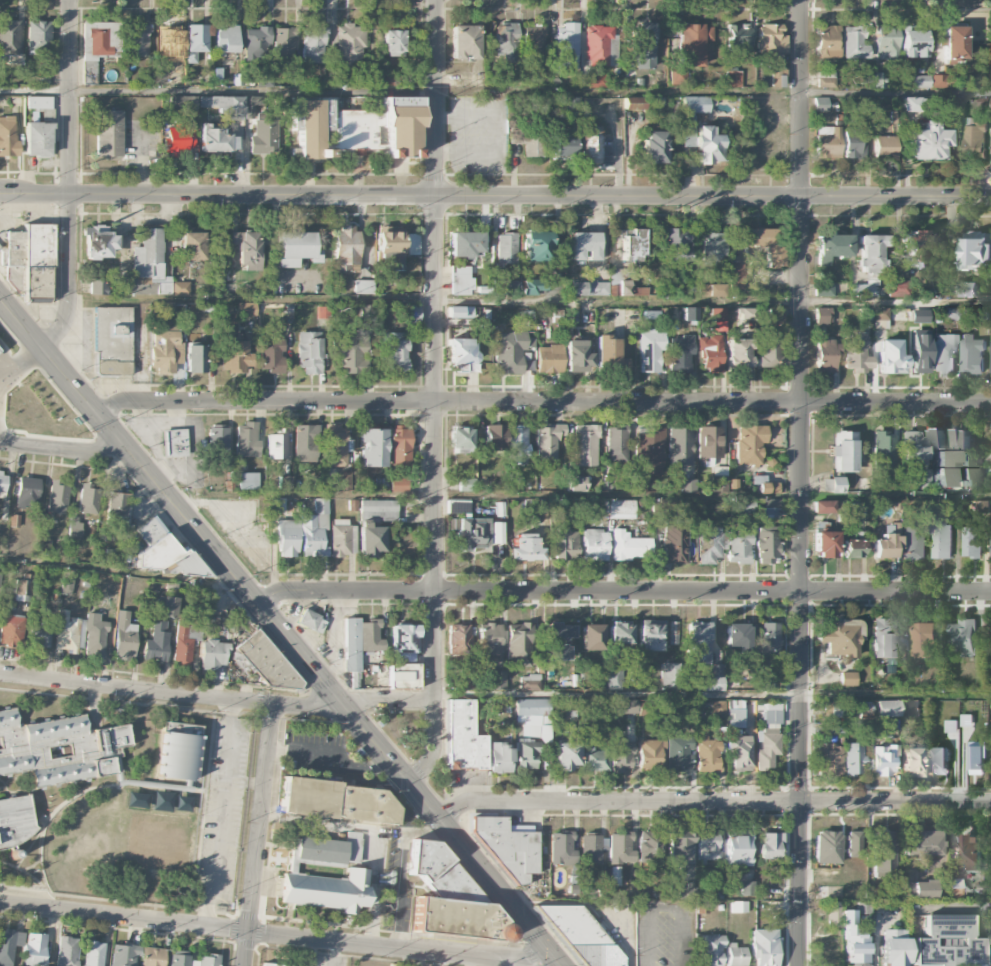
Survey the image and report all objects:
building: (39, 36)
building: (9, 38)
building: (226, 39)
building: (738, 39)
building: (771, 39)
building: (505, 40)
building: (138, 41)
building: (194, 41)
building: (533, 41)
building: (465, 42)
building: (826, 42)
building: (257, 43)
building: (283, 43)
building: (392, 43)
building: (854, 43)
building: (887, 43)
building: (915, 43)
building: (954, 44)
building: (313, 45)
building: (349, 45)
building: (566, 46)
building: (601, 46)
building: (96, 47)
building: (644, 47)
building: (688, 50)
building: (331, 72)
building: (775, 78)
building: (734, 79)
building: (468, 80)
building: (826, 80)
building: (878, 80)
building: (596, 81)
building: (921, 81)
building: (943, 81)
road: (495, 91)
building: (39, 102)
building: (183, 103)
building: (634, 103)
building: (820, 104)
building: (911, 104)
building: (695, 105)
building: (225, 106)
building: (249, 107)
building: (864, 109)
building: (294, 117)
building: (400, 127)
building: (109, 133)
building: (8, 135)
building: (263, 136)
building: (179, 137)
building: (216, 138)
building: (37, 139)
building: (974, 140)
building: (701, 141)
building: (828, 142)
building: (928, 142)
building: (854, 143)
building: (534, 146)
building: (590, 146)
building: (563, 147)
building: (653, 147)
building: (885, 147)
road: (70, 180)
road: (495, 195)
building: (98, 243)
building: (465, 244)
building: (764, 244)
building: (584, 245)
building: (676, 245)
building: (192, 246)
building: (389, 246)
building: (633, 246)
building: (536, 247)
building: (346, 248)
building: (506, 248)
building: (712, 248)
building: (832, 248)
building: (247, 249)
building: (296, 249)
building: (917, 249)
building: (977, 249)
building: (29, 261)
building: (868, 263)
building: (152, 267)
building: (732, 278)
building: (504, 282)
building: (460, 283)
building: (99, 287)
building: (364, 287)
building: (533, 287)
building: (589, 288)
building: (630, 289)
building: (897, 289)
building: (965, 289)
building: (710, 290)
building: (824, 290)
road: (530, 299)
building: (244, 309)
building: (460, 312)
building: (900, 313)
building: (412, 314)
building: (689, 314)
building: (880, 314)
building: (952, 314)
building: (745, 315)
building: (773, 315)
building: (981, 315)
building: (822, 317)
building: (719, 319)
building: (141, 333)
building: (111, 341)
building: (165, 350)
building: (649, 350)
building: (767, 350)
building: (920, 351)
building: (352, 352)
building: (508, 352)
building: (309, 353)
building: (397, 353)
building: (460, 353)
building: (739, 353)
building: (856, 353)
building: (609, 354)
building: (680, 354)
building: (711, 354)
building: (943, 354)
building: (271, 355)
building: (827, 355)
building: (972, 355)
building: (234, 356)
building: (577, 356)
building: (890, 357)
road: (20, 359)
building: (194, 359)
building: (549, 359)
road: (486, 386)
road: (560, 387)
road: (691, 387)
road: (436, 396)
road: (543, 404)
building: (493, 437)
building: (940, 438)
building: (218, 439)
building: (246, 440)
building: (460, 440)
building: (174, 443)
building: (305, 443)
building: (547, 443)
building: (709, 443)
building: (277, 444)
building: (616, 444)
building: (335, 445)
building: (585, 445)
building: (749, 445)
building: (400, 446)
building: (517, 446)
building: (679, 446)
building: (373, 447)
building: (913, 448)
building: (882, 450)
road: (62, 451)
building: (649, 451)
building: (844, 451)
building: (964, 459)
building: (941, 469)
building: (346, 480)
building: (247, 481)
building: (284, 482)
road: (800, 482)
building: (576, 483)
building: (3, 484)
building: (467, 484)
building: (399, 485)
building: (636, 485)
building: (688, 485)
building: (837, 485)
building: (768, 488)
building: (27, 493)
building: (57, 498)
road: (582, 498)
building: (88, 499)
road: (170, 501)
building: (667, 503)
building: (321, 506)
building: (745, 506)
building: (823, 507)
building: (116, 508)
building: (772, 508)
building: (621, 509)
building: (375, 524)
building: (498, 532)
building: (473, 534)
building: (300, 538)
building: (342, 538)
building: (990, 540)
building: (913, 541)
building: (942, 541)
building: (674, 542)
building: (887, 542)
building: (972, 542)
building: (566, 544)
building: (708, 544)
building: (825, 544)
building: (594, 545)
building: (767, 545)
building: (628, 546)
building: (738, 547)
building: (525, 548)
building: (855, 549)
building: (165, 552)
road: (118, 574)
building: (67, 582)
building: (21, 590)
road: (623, 595)
building: (169, 607)
building: (310, 621)
building: (10, 630)
building: (68, 633)
building: (557, 633)
building: (620, 633)
building: (673, 633)
building: (650, 635)
building: (40, 636)
building: (95, 636)
building: (186, 636)
building: (125, 637)
building: (591, 637)
building: (740, 638)
building: (839, 638)
building: (963, 638)
building: (404, 639)
building: (458, 639)
building: (489, 639)
building: (883, 639)
building: (769, 640)
building: (360, 641)
building: (923, 641)
building: (157, 642)
building: (698, 643)
building: (519, 644)
building: (555, 652)
building: (213, 654)
building: (267, 662)
building: (670, 675)
building: (847, 678)
building: (400, 679)
building: (614, 679)
building: (714, 679)
building: (497, 682)
building: (531, 683)
building: (764, 684)
building: (460, 685)
road: (713, 694)
road: (171, 695)
road: (388, 701)
building: (623, 706)
building: (865, 706)
building: (717, 707)
building: (888, 708)
building: (910, 708)
building: (832, 709)
building: (532, 715)
building: (735, 718)
building: (967, 719)
building: (951, 726)
building: (463, 737)
building: (769, 738)
building: (58, 747)
building: (178, 751)
building: (740, 752)
building: (707, 753)
building: (527, 754)
building: (651, 754)
building: (679, 754)
building: (620, 755)
building: (565, 756)
building: (977, 757)
building: (500, 758)
building: (594, 759)
building: (853, 759)
building: (829, 760)
building: (911, 760)
building: (941, 760)
building: (883, 761)
building: (337, 801)
road: (713, 802)
building: (183, 803)
road: (220, 815)
building: (14, 819)
road: (452, 834)
road: (258, 836)
building: (160, 843)
building: (922, 843)
building: (855, 844)
building: (507, 846)
building: (650, 846)
building: (707, 846)
building: (769, 846)
building: (827, 847)
building: (561, 848)
building: (592, 848)
building: (619, 848)
building: (678, 849)
building: (320, 850)
building: (737, 850)
building: (883, 852)
building: (971, 852)
road: (402, 875)
building: (614, 876)
building: (747, 888)
building: (908, 889)
building: (924, 889)
building: (327, 890)
building: (680, 892)
building: (828, 892)
building: (451, 898)
road: (588, 904)
building: (738, 907)
building: (862, 908)
road: (666, 911)
building: (833, 914)
building: (582, 935)
road: (274, 936)
building: (854, 943)
building: (947, 943)
building: (7, 947)
building: (764, 947)
building: (893, 947)
building: (34, 950)
building: (711, 950)
building: (67, 951)
building: (93, 953)
building: (123, 955)
building: (735, 955)
building: (151, 957)
building: (208, 960)
building: (180, 961)
building: (272, 965)

